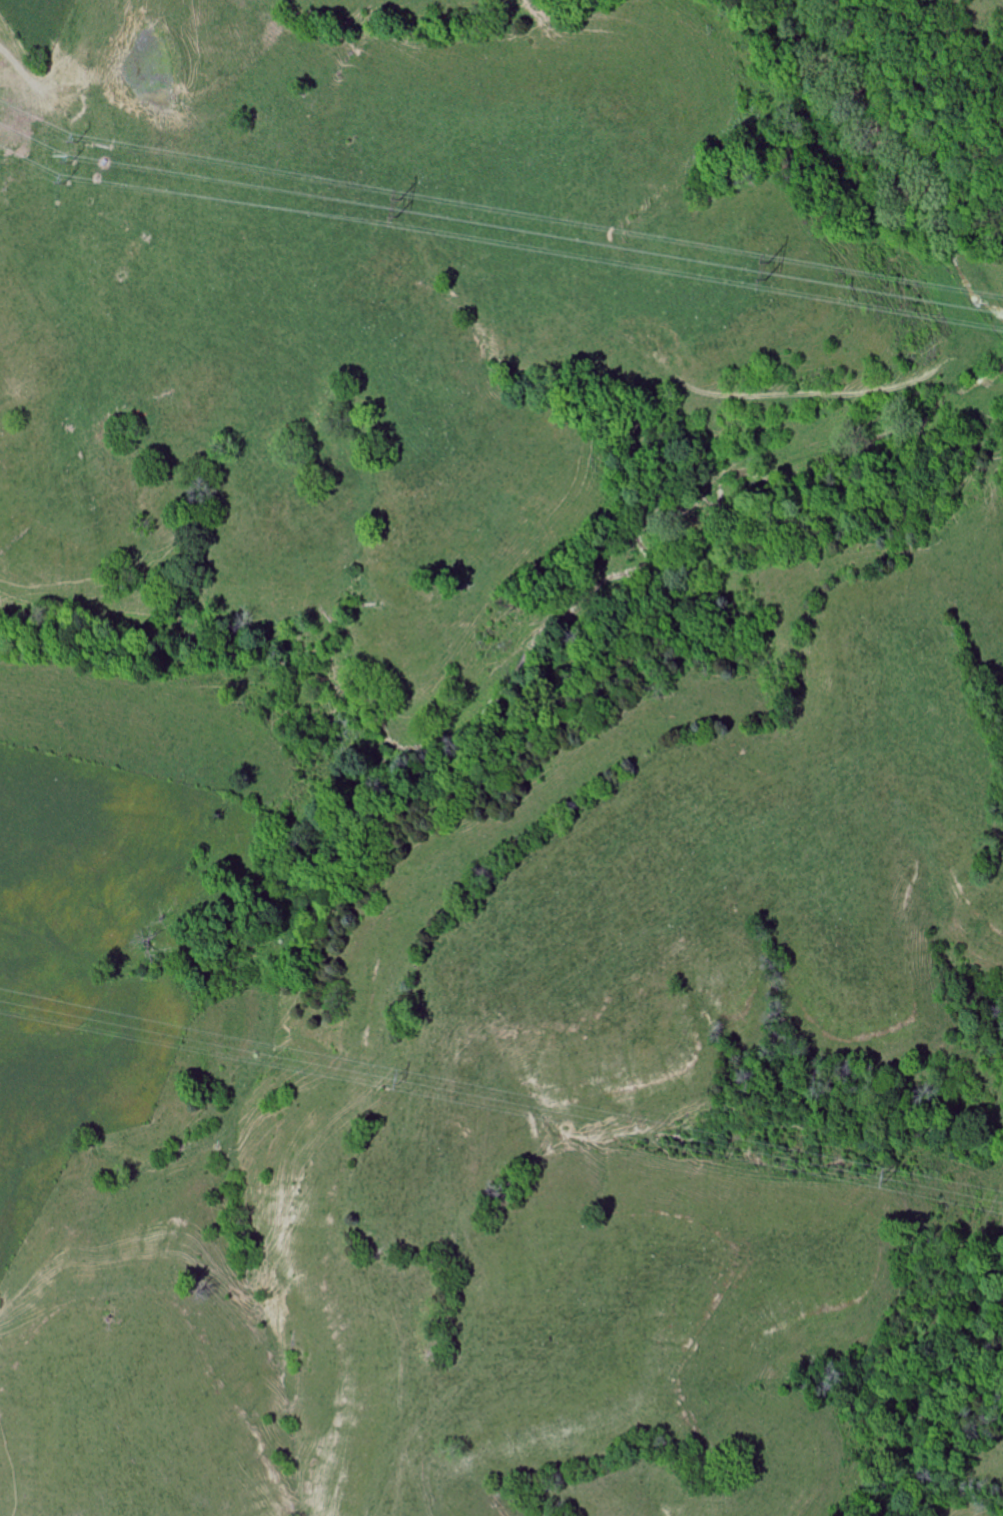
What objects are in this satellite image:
power tower: (71, 156)
power tower: (396, 204)
power tower: (764, 268)
power tower: (399, 1078)
power tower: (882, 1171)

